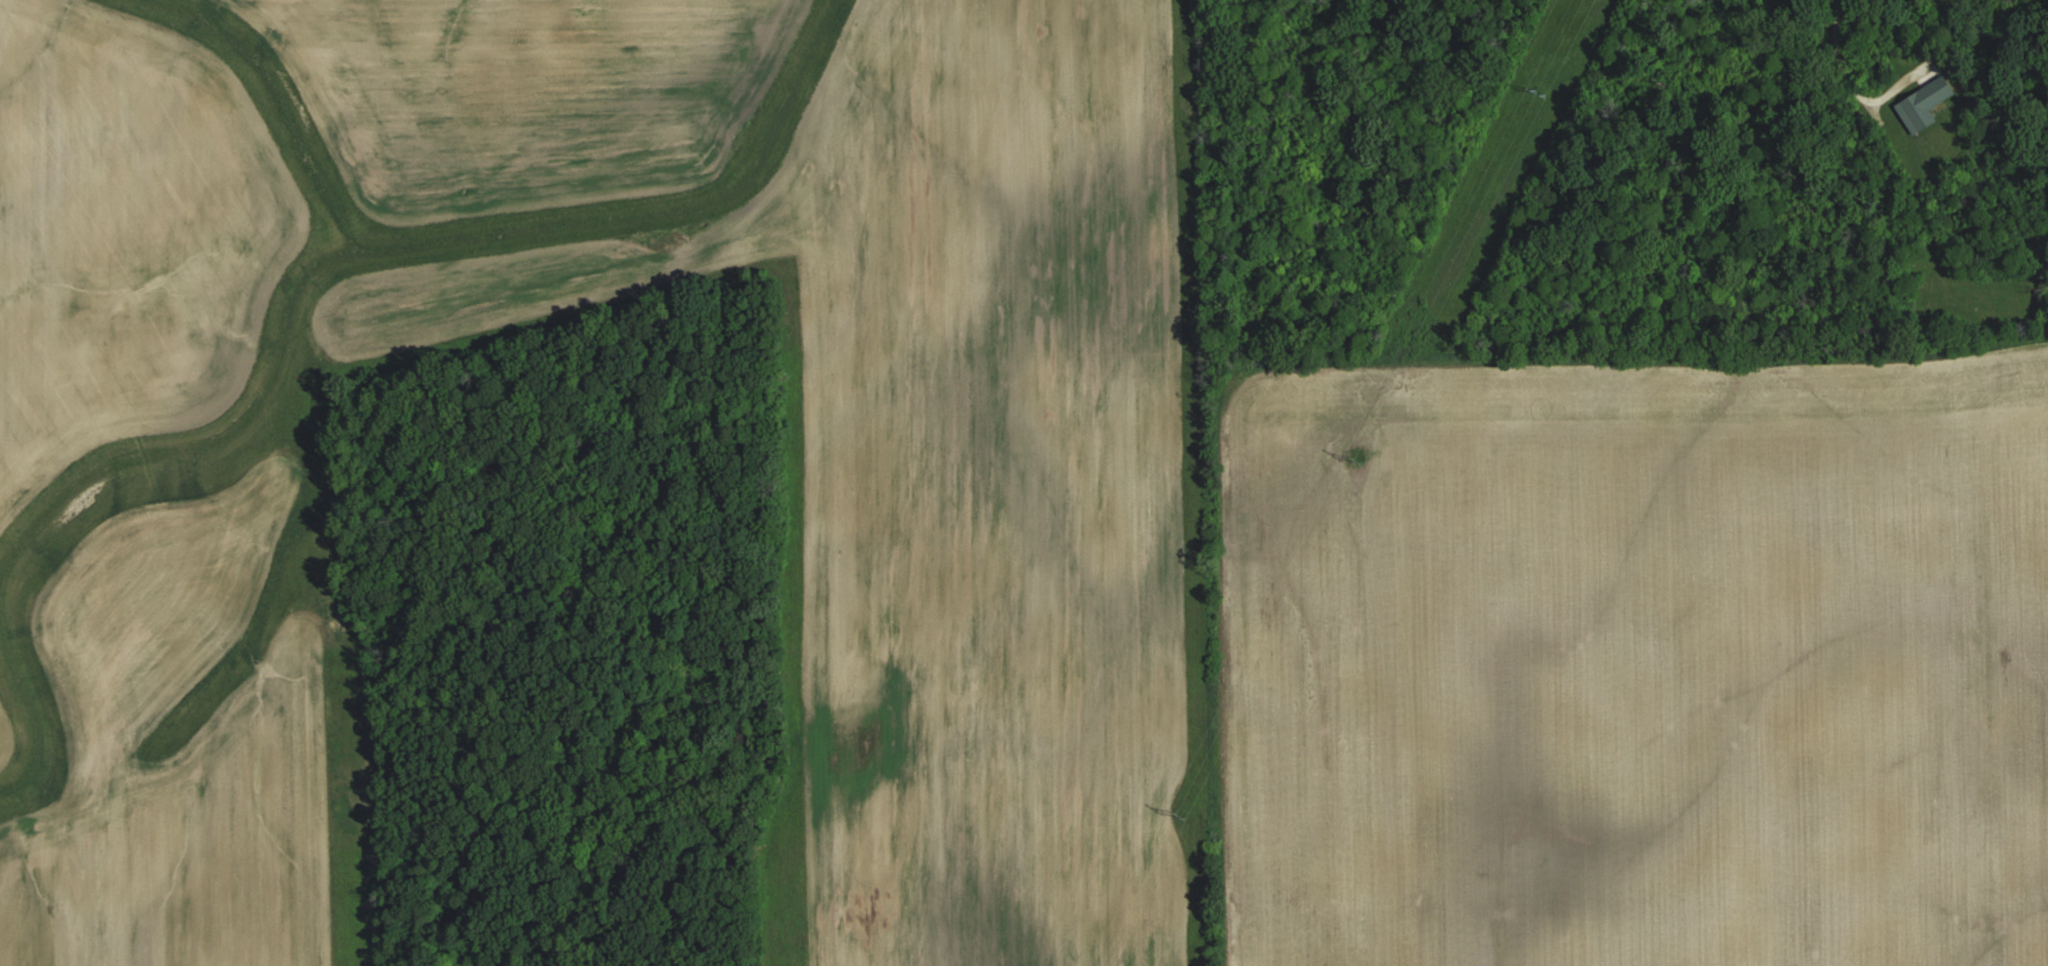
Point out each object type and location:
power tower: (1563, 83)
road: (1852, 84)
building: (1925, 103)
power tower: (1365, 464)
power tower: (1186, 817)

